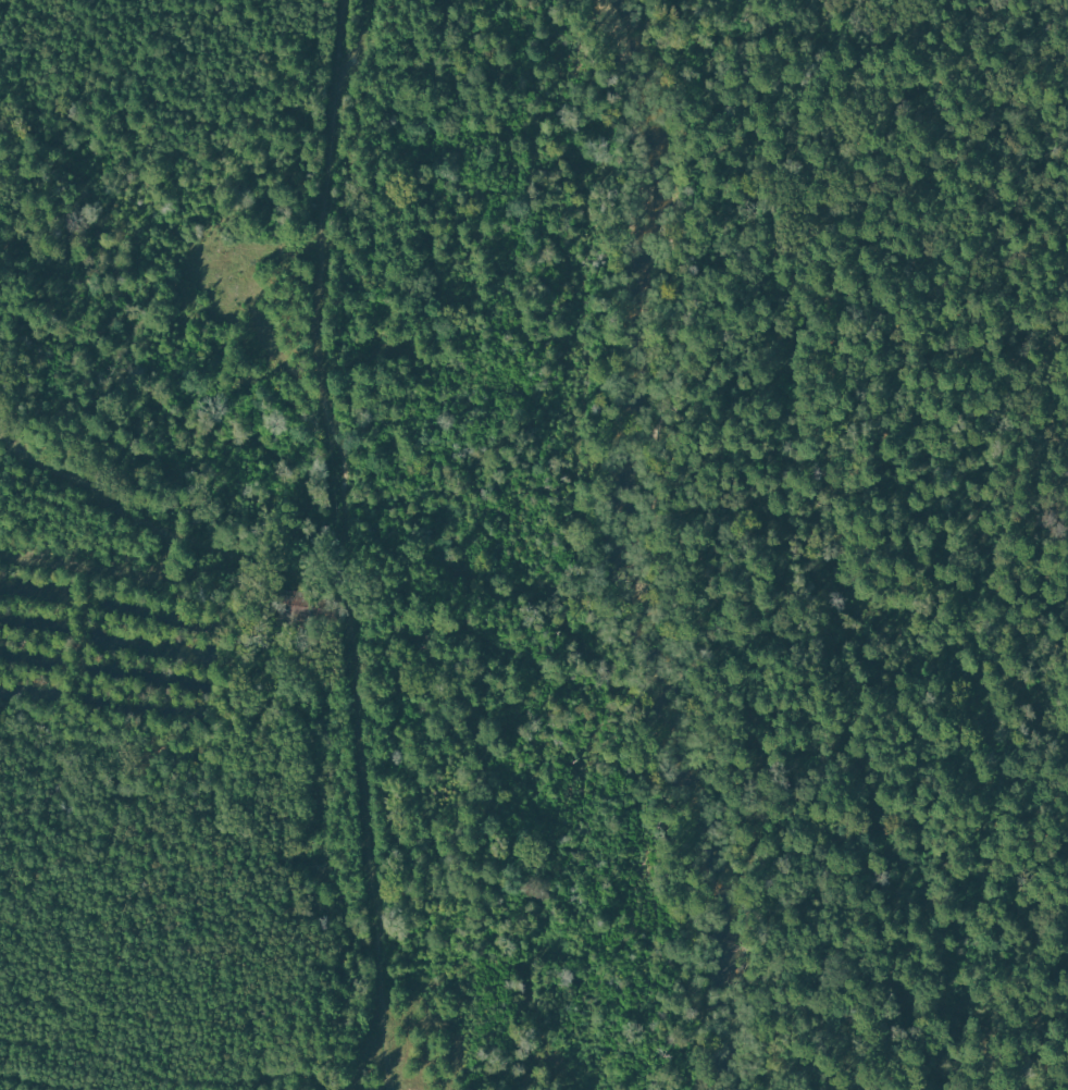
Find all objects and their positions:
road: (1042, 16)
road: (692, 536)
river: (614, 544)

